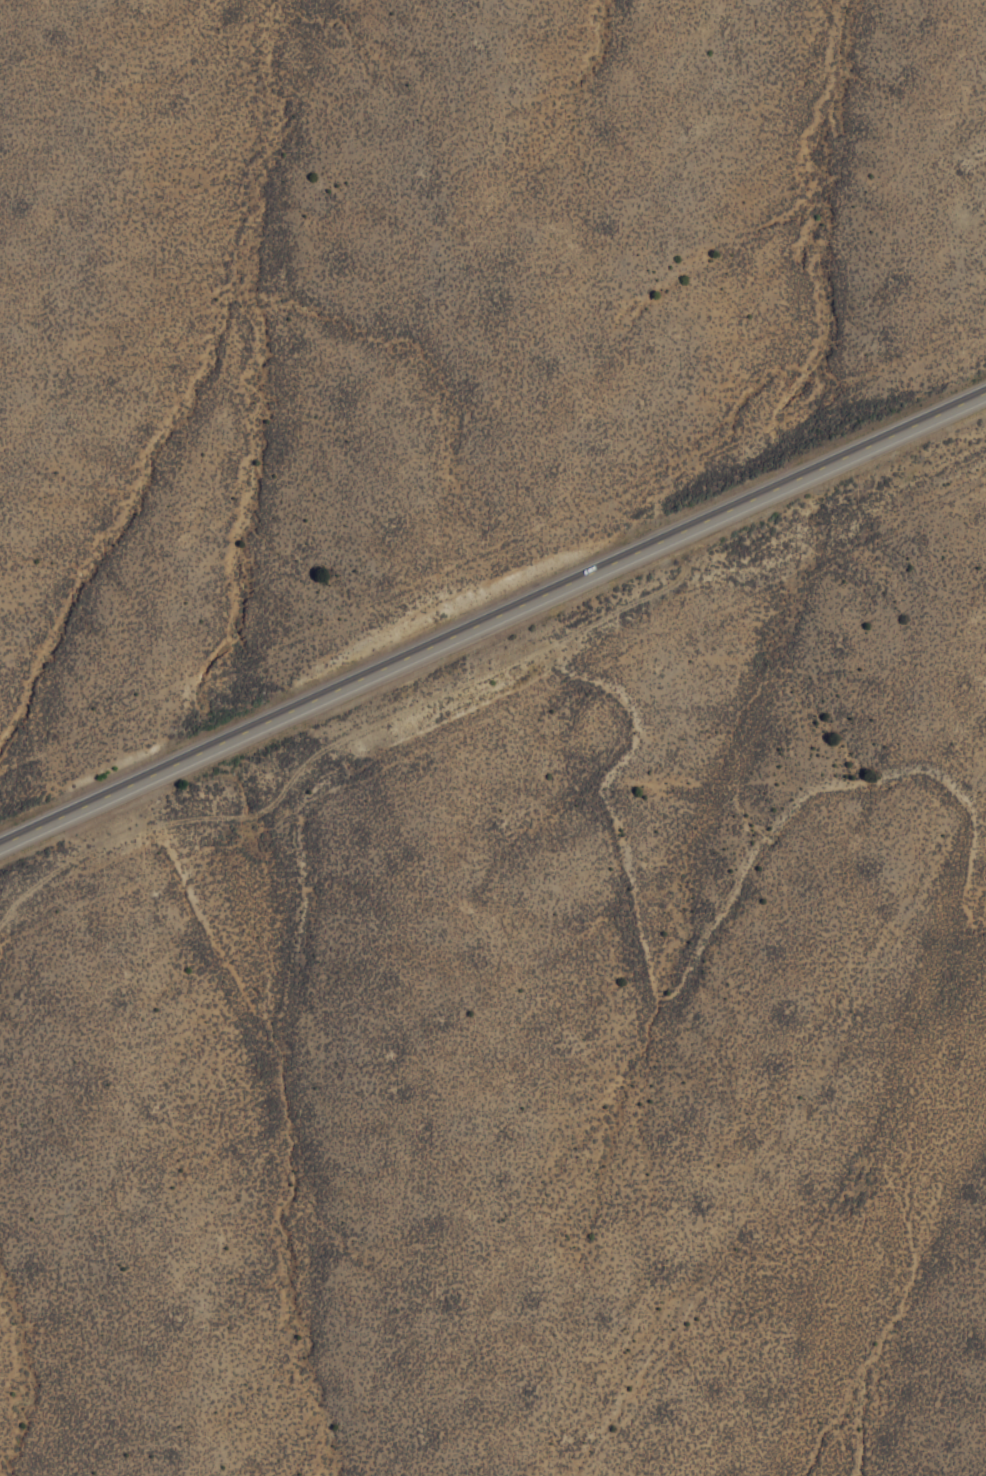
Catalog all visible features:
road: (492, 615)

